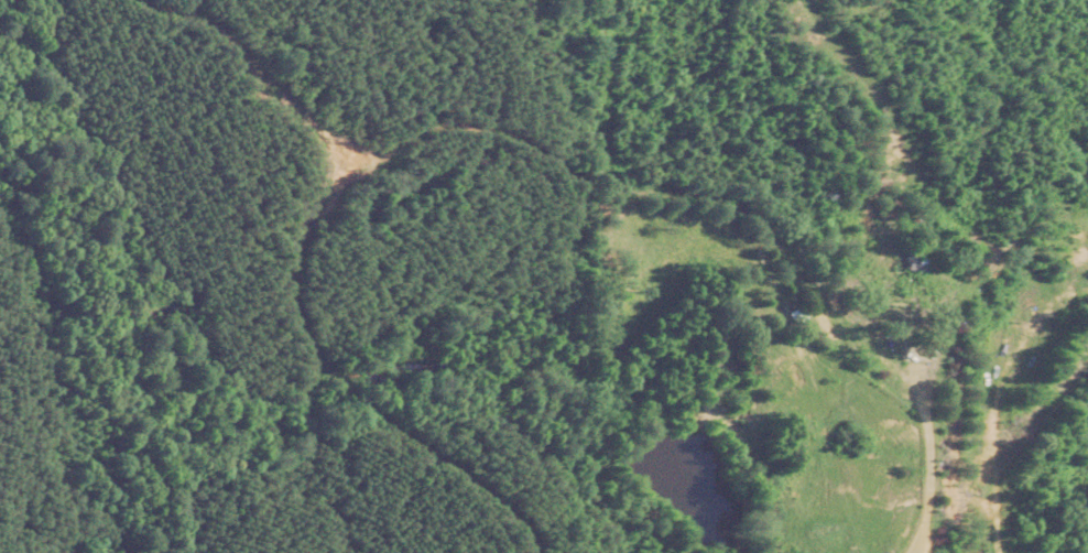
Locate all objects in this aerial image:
building: (904, 258)
building: (891, 304)
road: (920, 457)
road: (914, 544)

